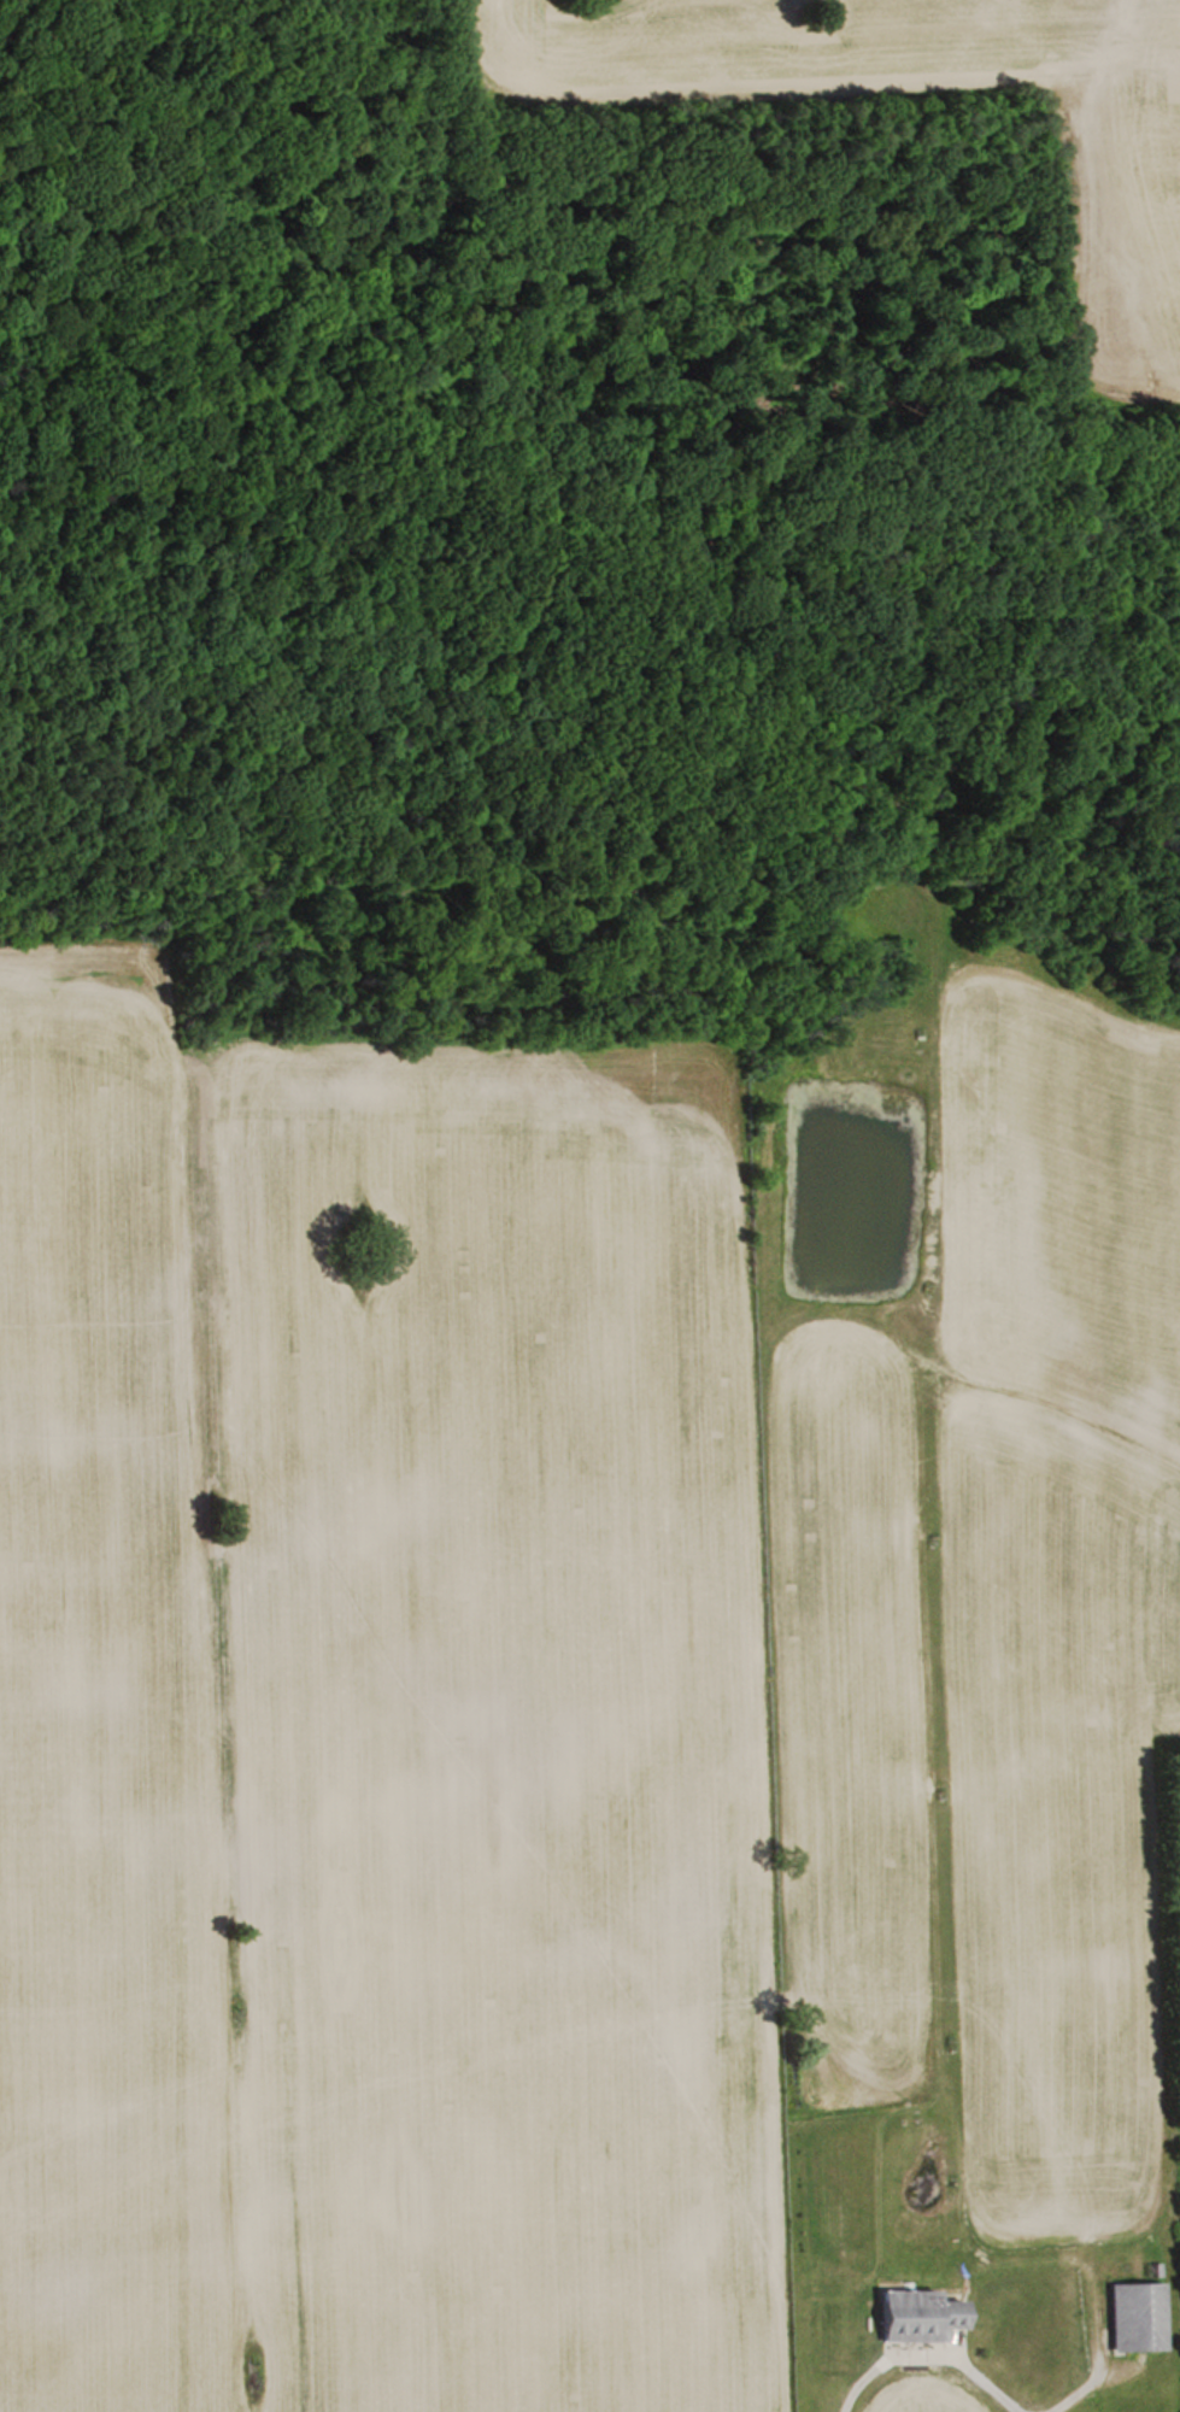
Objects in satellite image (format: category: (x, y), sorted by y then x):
building: (924, 2314)
building: (1140, 2316)

